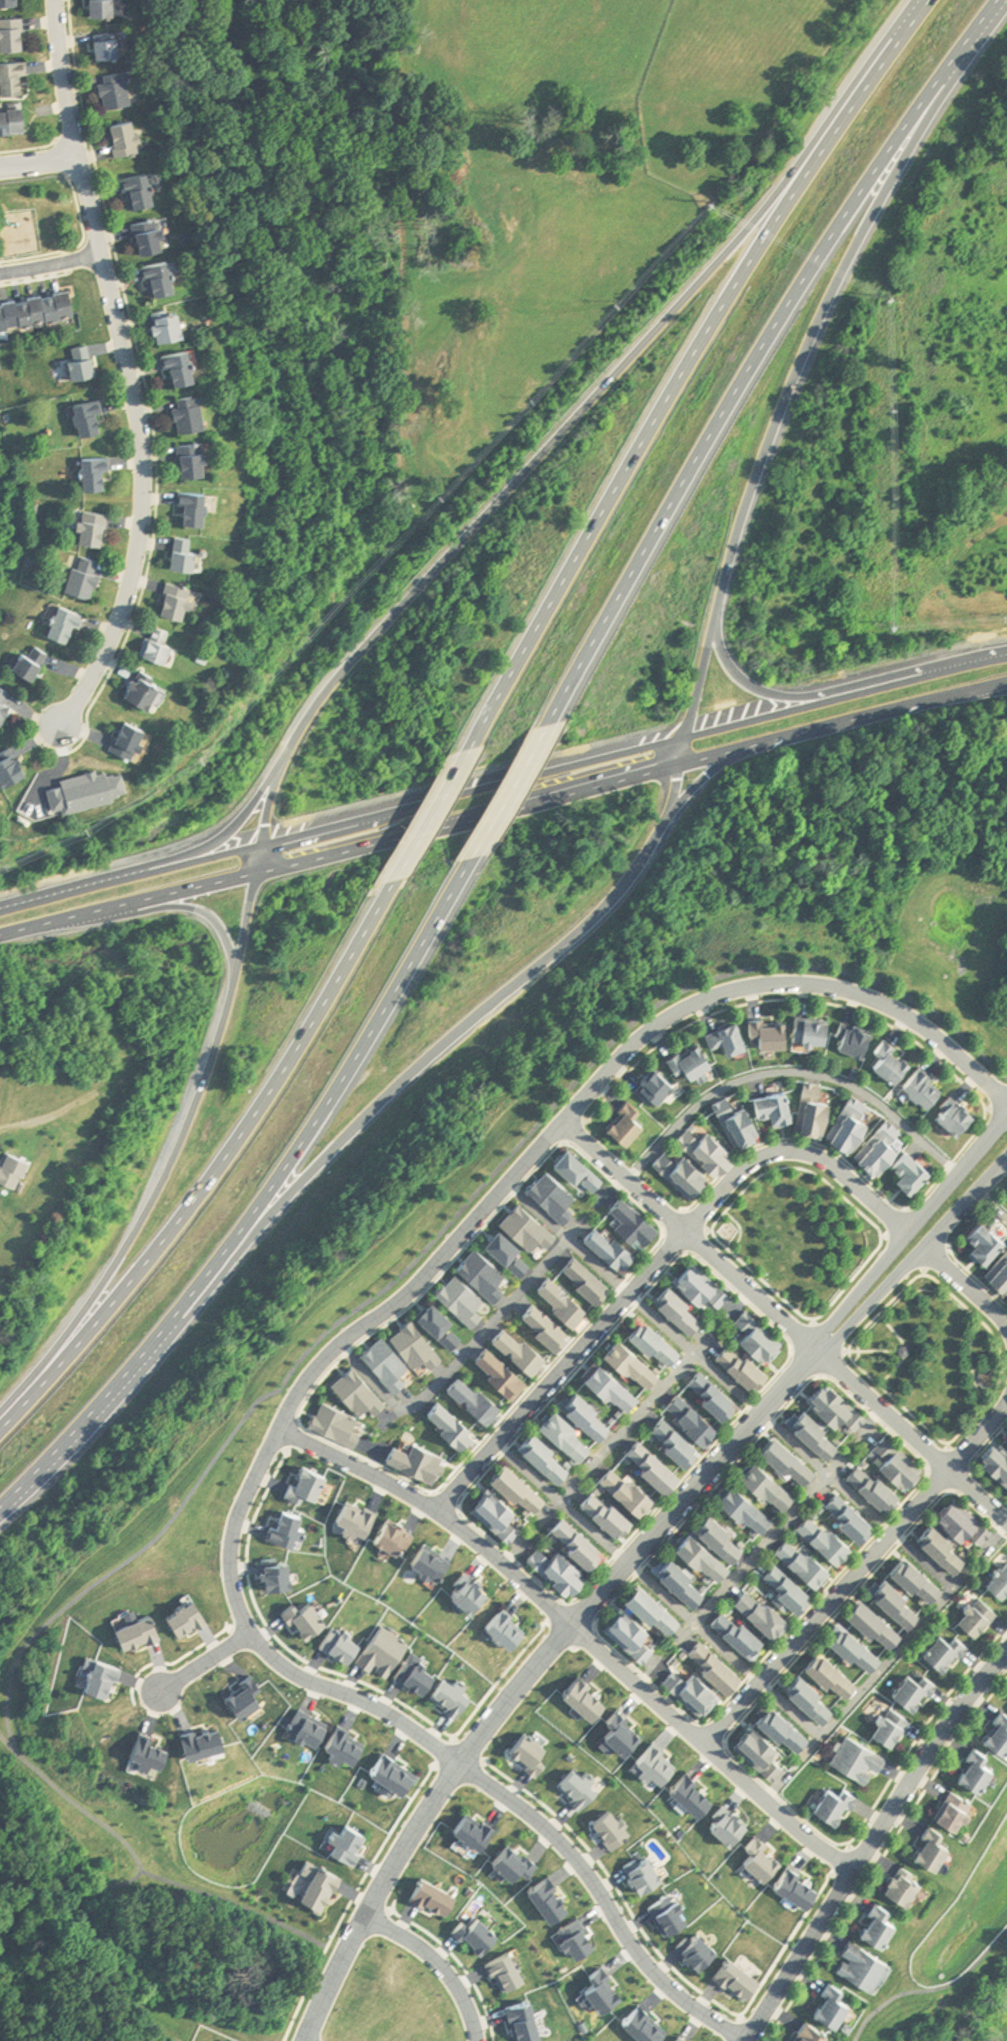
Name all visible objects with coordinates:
building: (14, 3)
building: (111, 8)
building: (17, 35)
building: (116, 46)
building: (18, 78)
building: (122, 91)
building: (16, 121)
building: (131, 140)
road: (39, 161)
building: (146, 192)
building: (155, 238)
road: (50, 264)
building: (166, 280)
building: (35, 305)
building: (175, 326)
road: (757, 351)
building: (88, 363)
road: (684, 363)
road: (126, 366)
building: (187, 368)
road: (778, 410)
building: (196, 416)
building: (96, 419)
building: (200, 462)
building: (103, 475)
building: (202, 509)
building: (99, 531)
building: (192, 557)
building: (88, 578)
building: (183, 602)
building: (71, 625)
building: (165, 648)
building: (37, 664)
road: (348, 666)
road: (765, 688)
building: (150, 693)
building: (6, 707)
building: (134, 742)
building: (15, 768)
road: (502, 782)
road: (701, 784)
road: (509, 791)
road: (503, 810)
road: (434, 812)
road: (238, 824)
road: (206, 913)
building: (810, 1024)
building: (769, 1027)
building: (729, 1031)
building: (824, 1033)
building: (851, 1033)
building: (865, 1041)
building: (690, 1055)
building: (888, 1059)
building: (701, 1065)
road: (418, 1066)
road: (790, 1071)
road: (1006, 1076)
road: (1006, 1077)
building: (656, 1079)
road: (598, 1081)
building: (922, 1083)
building: (774, 1101)
building: (811, 1106)
building: (953, 1112)
building: (736, 1117)
building: (628, 1118)
building: (846, 1119)
building: (860, 1127)
building: (707, 1144)
building: (878, 1146)
road: (218, 1166)
building: (578, 1166)
building: (681, 1167)
building: (910, 1167)
building: (17, 1172)
building: (552, 1193)
road: (261, 1202)
road: (996, 1202)
building: (632, 1220)
building: (528, 1224)
road: (741, 1230)
road: (909, 1231)
park: (800, 1236)
road: (571, 1238)
building: (984, 1238)
building: (610, 1246)
building: (507, 1248)
road: (914, 1263)
road: (656, 1264)
building: (482, 1271)
building: (998, 1271)
building: (586, 1276)
building: (701, 1281)
road: (969, 1284)
building: (461, 1297)
building: (561, 1297)
building: (677, 1303)
building: (437, 1320)
road: (813, 1321)
road: (786, 1322)
building: (546, 1325)
road: (890, 1325)
building: (757, 1333)
road: (830, 1336)
building: (653, 1337)
road: (901, 1339)
road: (314, 1342)
building: (413, 1343)
building: (520, 1347)
building: (903, 1347)
road: (873, 1350)
road: (696, 1355)
building: (632, 1357)
road: (459, 1358)
park: (929, 1358)
building: (385, 1361)
building: (742, 1363)
road: (972, 1364)
road: (893, 1369)
building: (499, 1371)
building: (610, 1382)
building: (357, 1390)
building: (711, 1391)
building: (472, 1398)
building: (835, 1404)
building: (585, 1411)
building: (691, 1415)
building: (333, 1422)
building: (449, 1422)
road: (630, 1429)
building: (812, 1429)
building: (564, 1430)
building: (1006, 1430)
road: (939, 1438)
building: (675, 1439)
building: (543, 1452)
building: (785, 1456)
building: (997, 1456)
building: (415, 1459)
building: (894, 1459)
building: (653, 1462)
road: (827, 1474)
building: (766, 1480)
building: (304, 1482)
building: (516, 1484)
building: (871, 1485)
building: (627, 1488)
road: (565, 1503)
building: (744, 1504)
building: (494, 1510)
building: (606, 1511)
building: (355, 1516)
building: (848, 1516)
building: (961, 1519)
building: (286, 1523)
building: (393, 1532)
building: (717, 1534)
building: (824, 1537)
road: (469, 1539)
building: (577, 1539)
building: (942, 1545)
road: (760, 1547)
building: (701, 1552)
building: (430, 1558)
building: (801, 1560)
road: (922, 1561)
building: (557, 1564)
building: (275, 1569)
building: (678, 1576)
building: (913, 1576)
road: (855, 1577)
building: (998, 1579)
building: (788, 1585)
building: (467, 1589)
building: (895, 1598)
building: (650, 1603)
building: (761, 1610)
building: (186, 1613)
building: (303, 1613)
building: (974, 1613)
building: (872, 1618)
road: (696, 1623)
building: (138, 1625)
building: (504, 1625)
building: (629, 1628)
building: (736, 1631)
road: (915, 1631)
building: (338, 1641)
building: (853, 1644)
building: (380, 1650)
building: (944, 1650)
building: (714, 1664)
road: (205, 1666)
building: (105, 1668)
building: (828, 1668)
building: (412, 1672)
road: (529, 1674)
building: (912, 1688)
building: (691, 1689)
building: (245, 1693)
building: (585, 1694)
building: (809, 1694)
building: (448, 1696)
road: (792, 1712)
building: (307, 1723)
building: (780, 1723)
building: (889, 1725)
building: (618, 1731)
building: (998, 1732)
building: (202, 1735)
building: (343, 1742)
road: (7, 1744)
building: (148, 1747)
road: (434, 1748)
building: (756, 1750)
building: (530, 1751)
building: (856, 1759)
building: (654, 1761)
building: (978, 1766)
building: (390, 1773)
road: (743, 1782)
building: (578, 1786)
building: (690, 1791)
building: (835, 1802)
building: (951, 1807)
building: (727, 1822)
building: (610, 1826)
building: (473, 1829)
building: (345, 1841)
road: (875, 1842)
building: (930, 1844)
building: (760, 1855)
building: (512, 1860)
building: (641, 1871)
building: (900, 1881)
building: (313, 1882)
building: (795, 1884)
building: (430, 1894)
building: (548, 1895)
road: (242, 1906)
building: (666, 1912)
building: (878, 1923)
building: (473, 1931)
building: (574, 1936)
building: (695, 1948)
road: (979, 1959)
road: (439, 1963)
building: (862, 1964)
building: (504, 1969)
building: (734, 1976)
building: (599, 1988)
road: (922, 1990)
building: (831, 2001)
road: (873, 2015)
building: (521, 2020)
building: (644, 2023)
building: (810, 2032)
building: (678, 2039)
road: (749, 2040)

